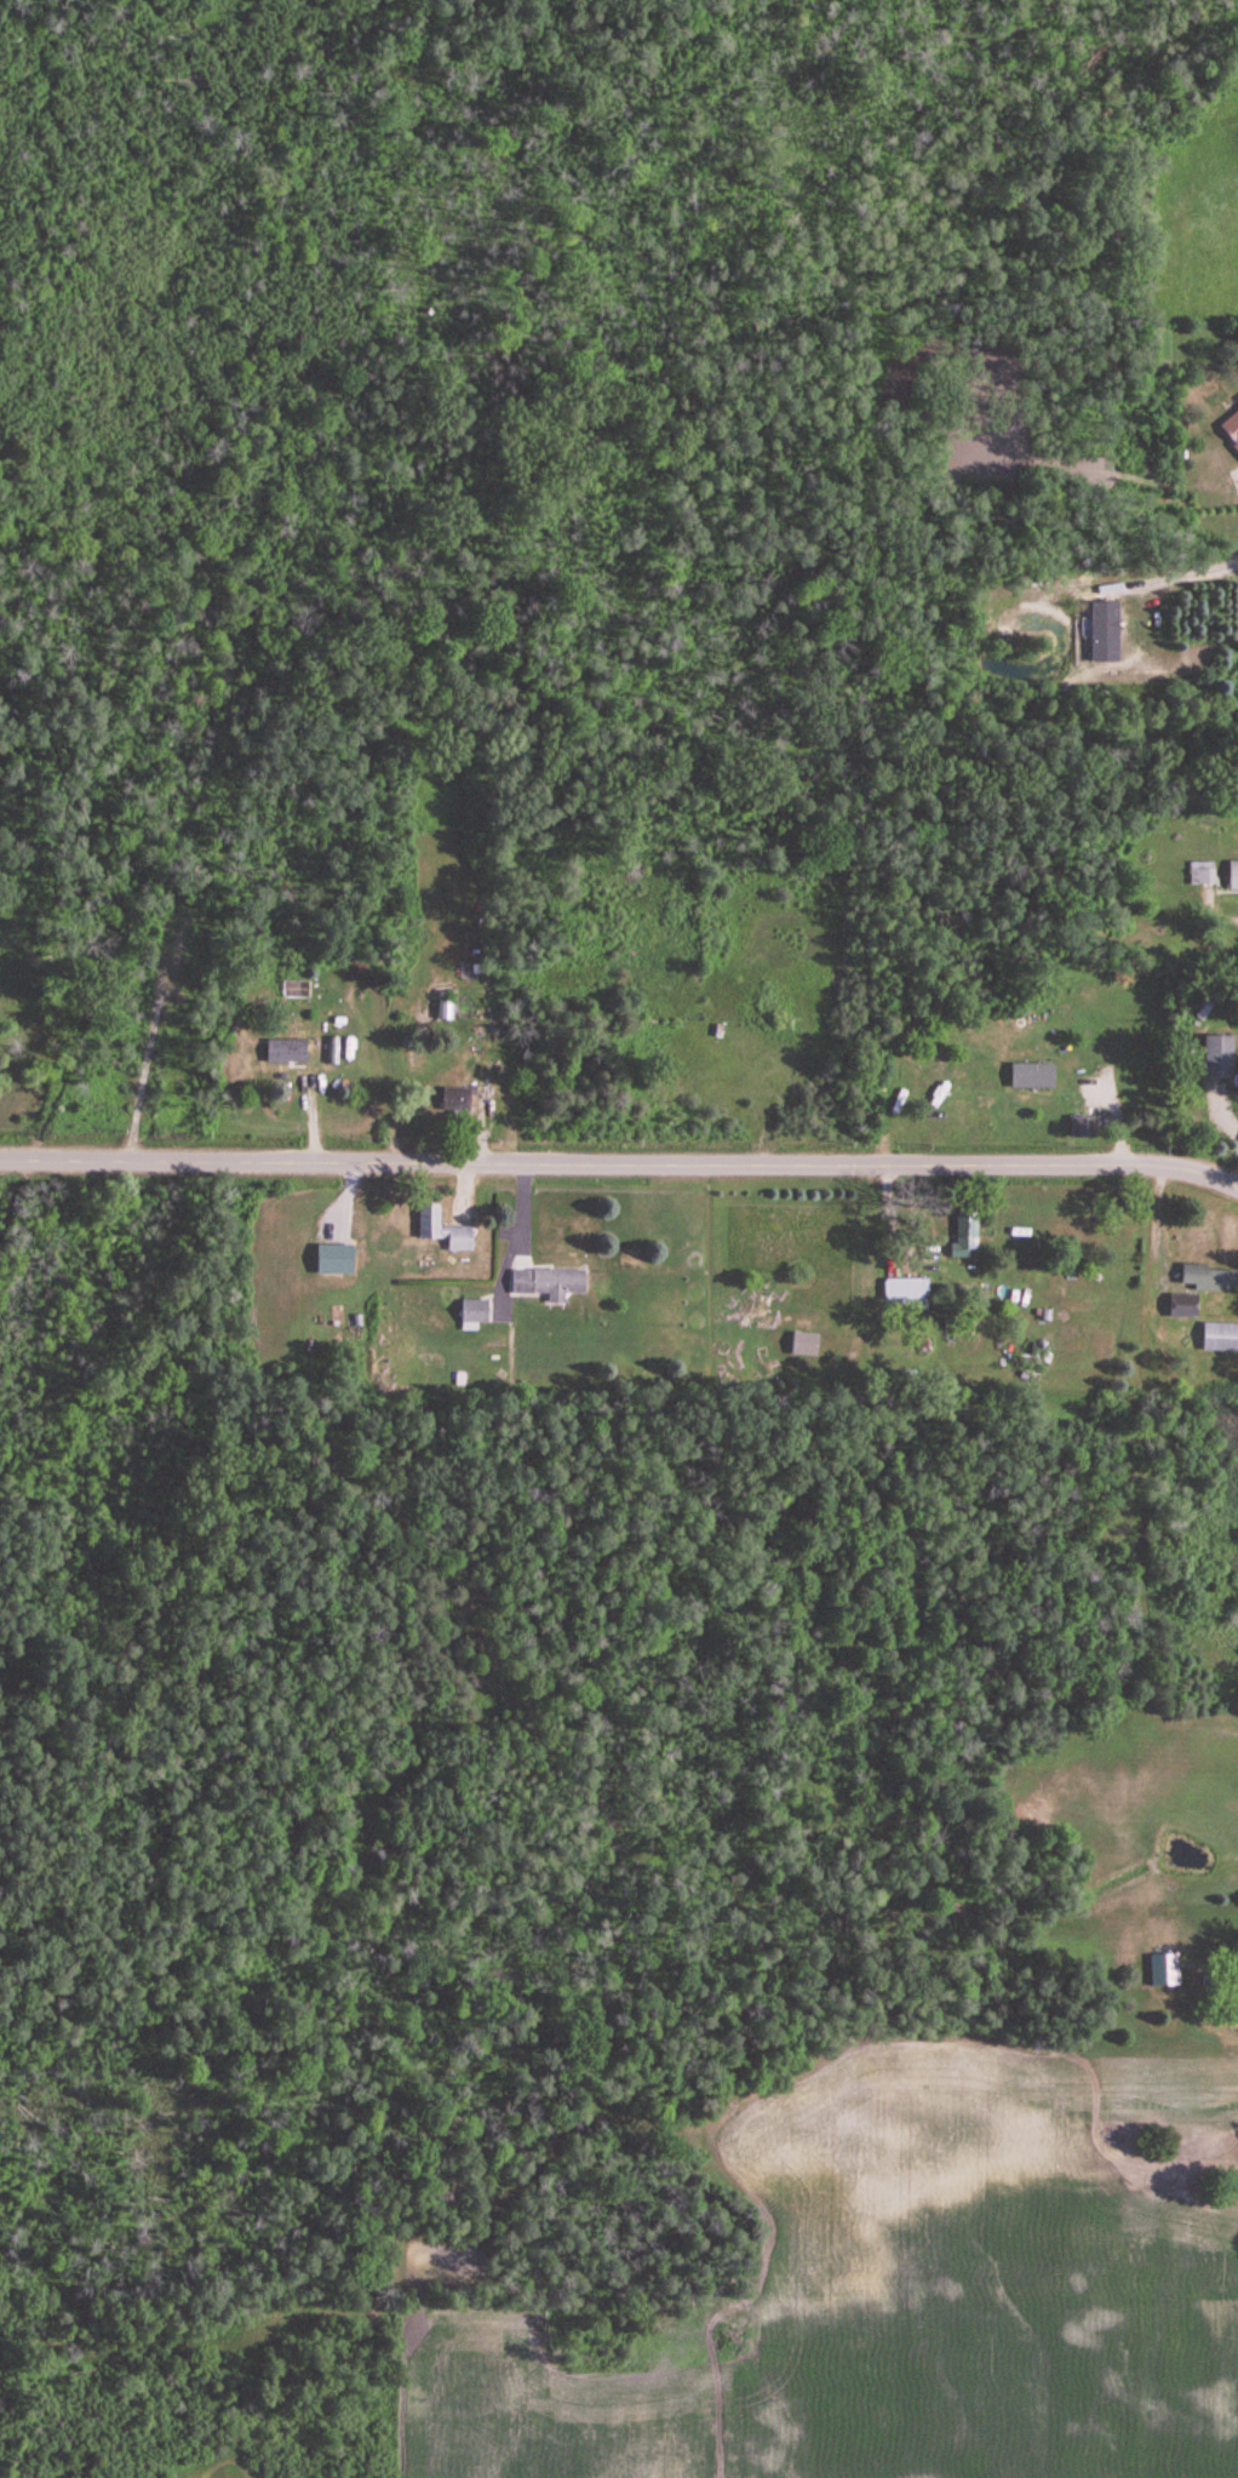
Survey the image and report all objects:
building: (1230, 428)
road: (1170, 576)
building: (1202, 872)
building: (1232, 876)
building: (173, 946)
building: (441, 1009)
building: (285, 1049)
building: (1216, 1055)
building: (1031, 1075)
building: (871, 1093)
building: (453, 1100)
building: (1084, 1127)
road: (620, 1160)
building: (440, 1229)
building: (1209, 1277)
building: (548, 1283)
building: (905, 1289)
building: (1187, 1305)
building: (475, 1311)
building: (1219, 1338)
building: (803, 1344)
road: (627, 1631)
building: (1164, 1969)

